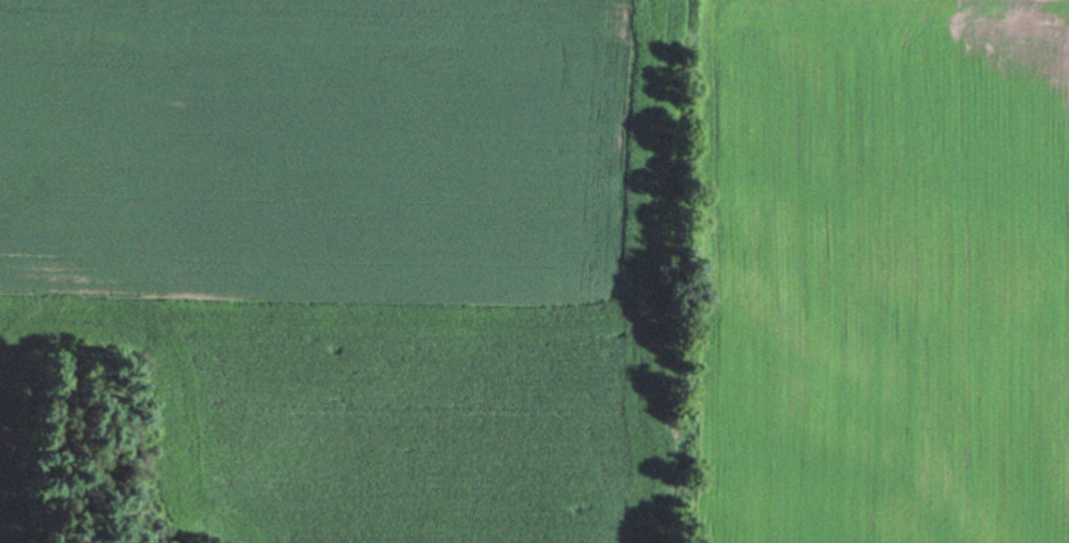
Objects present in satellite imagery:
crop: (877, 271)

